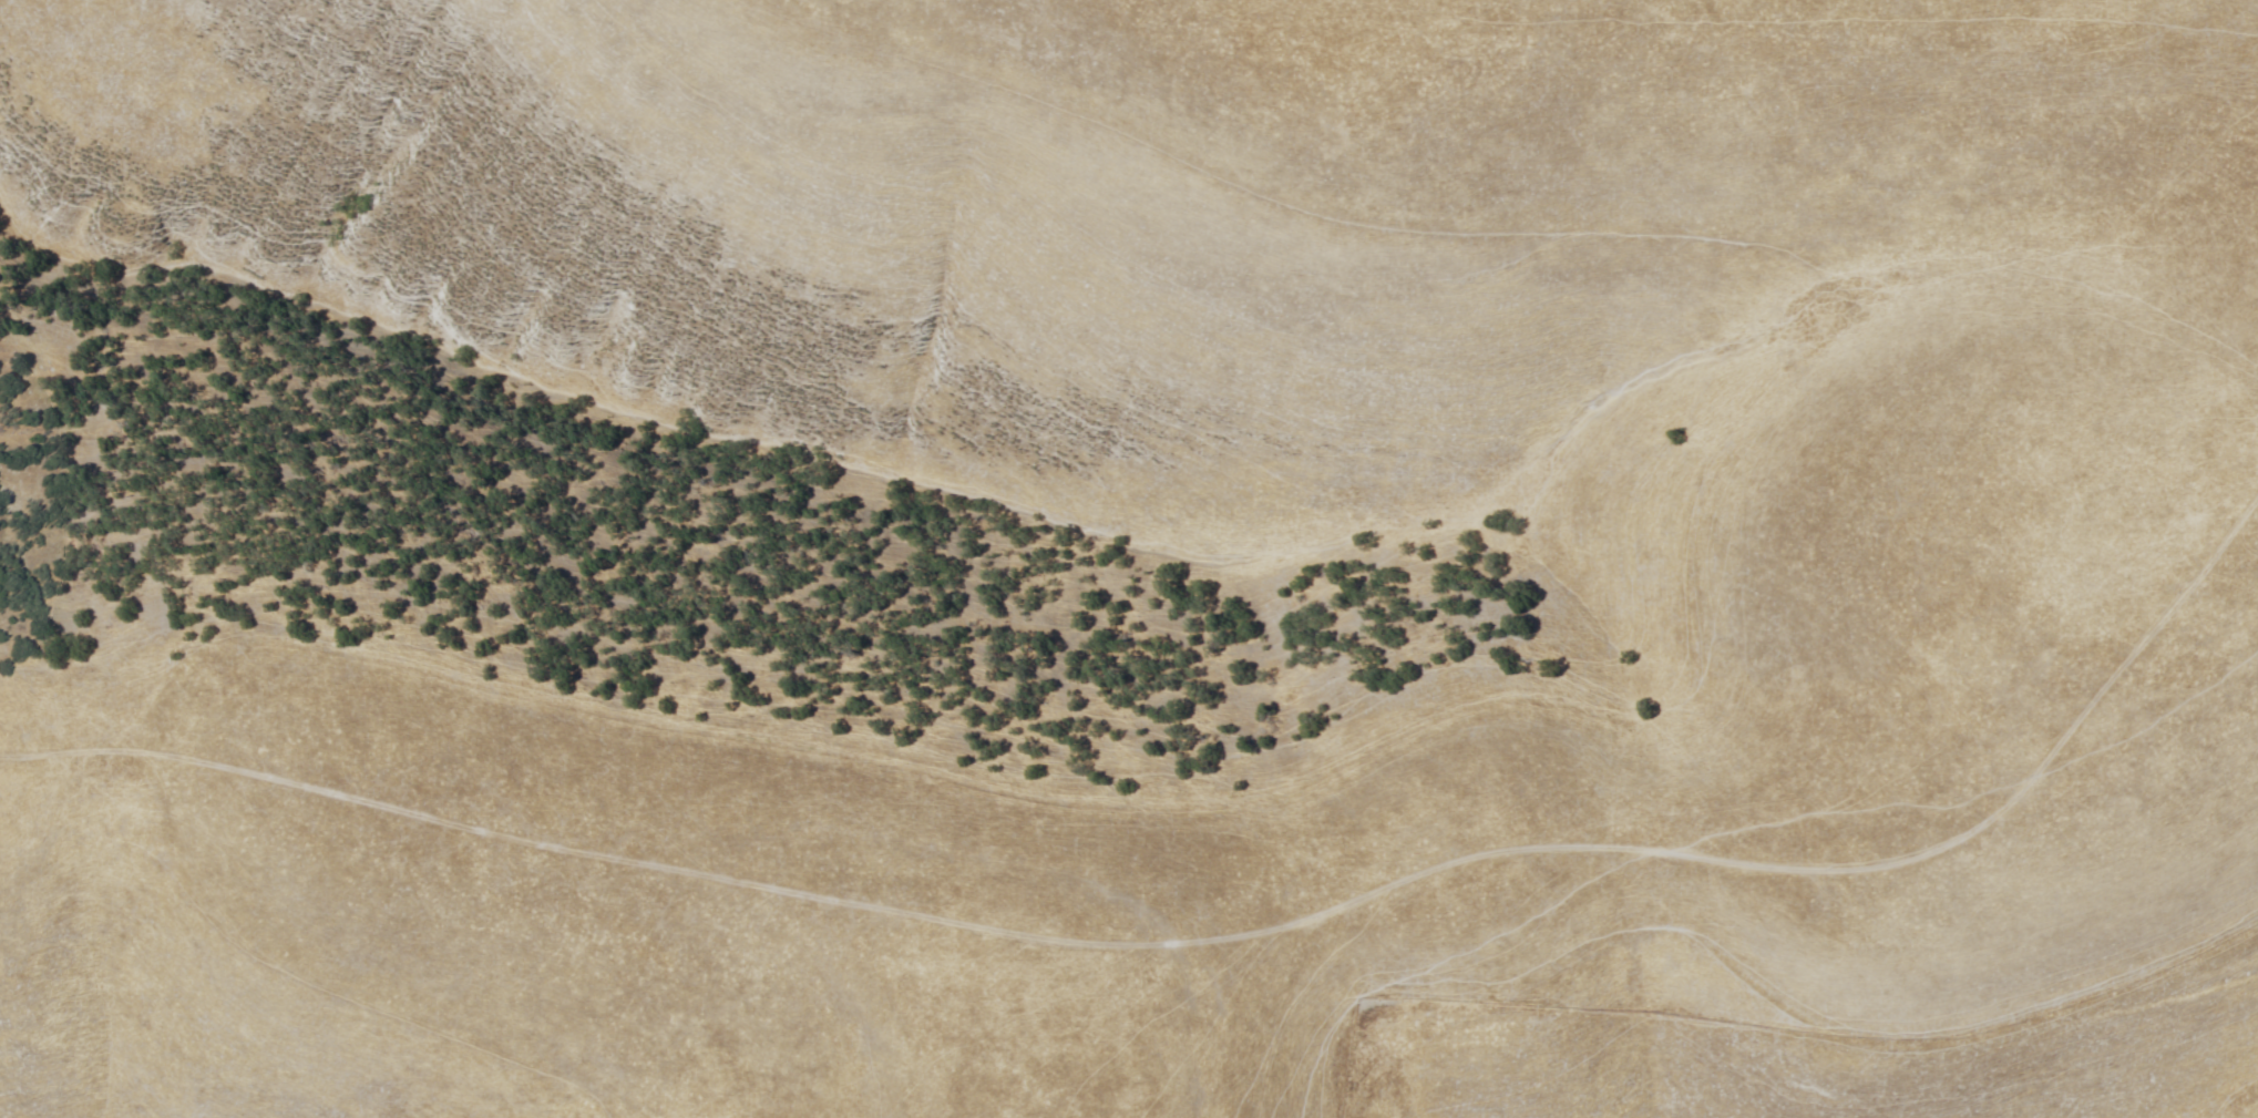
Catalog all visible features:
road: (1803, 1038)

